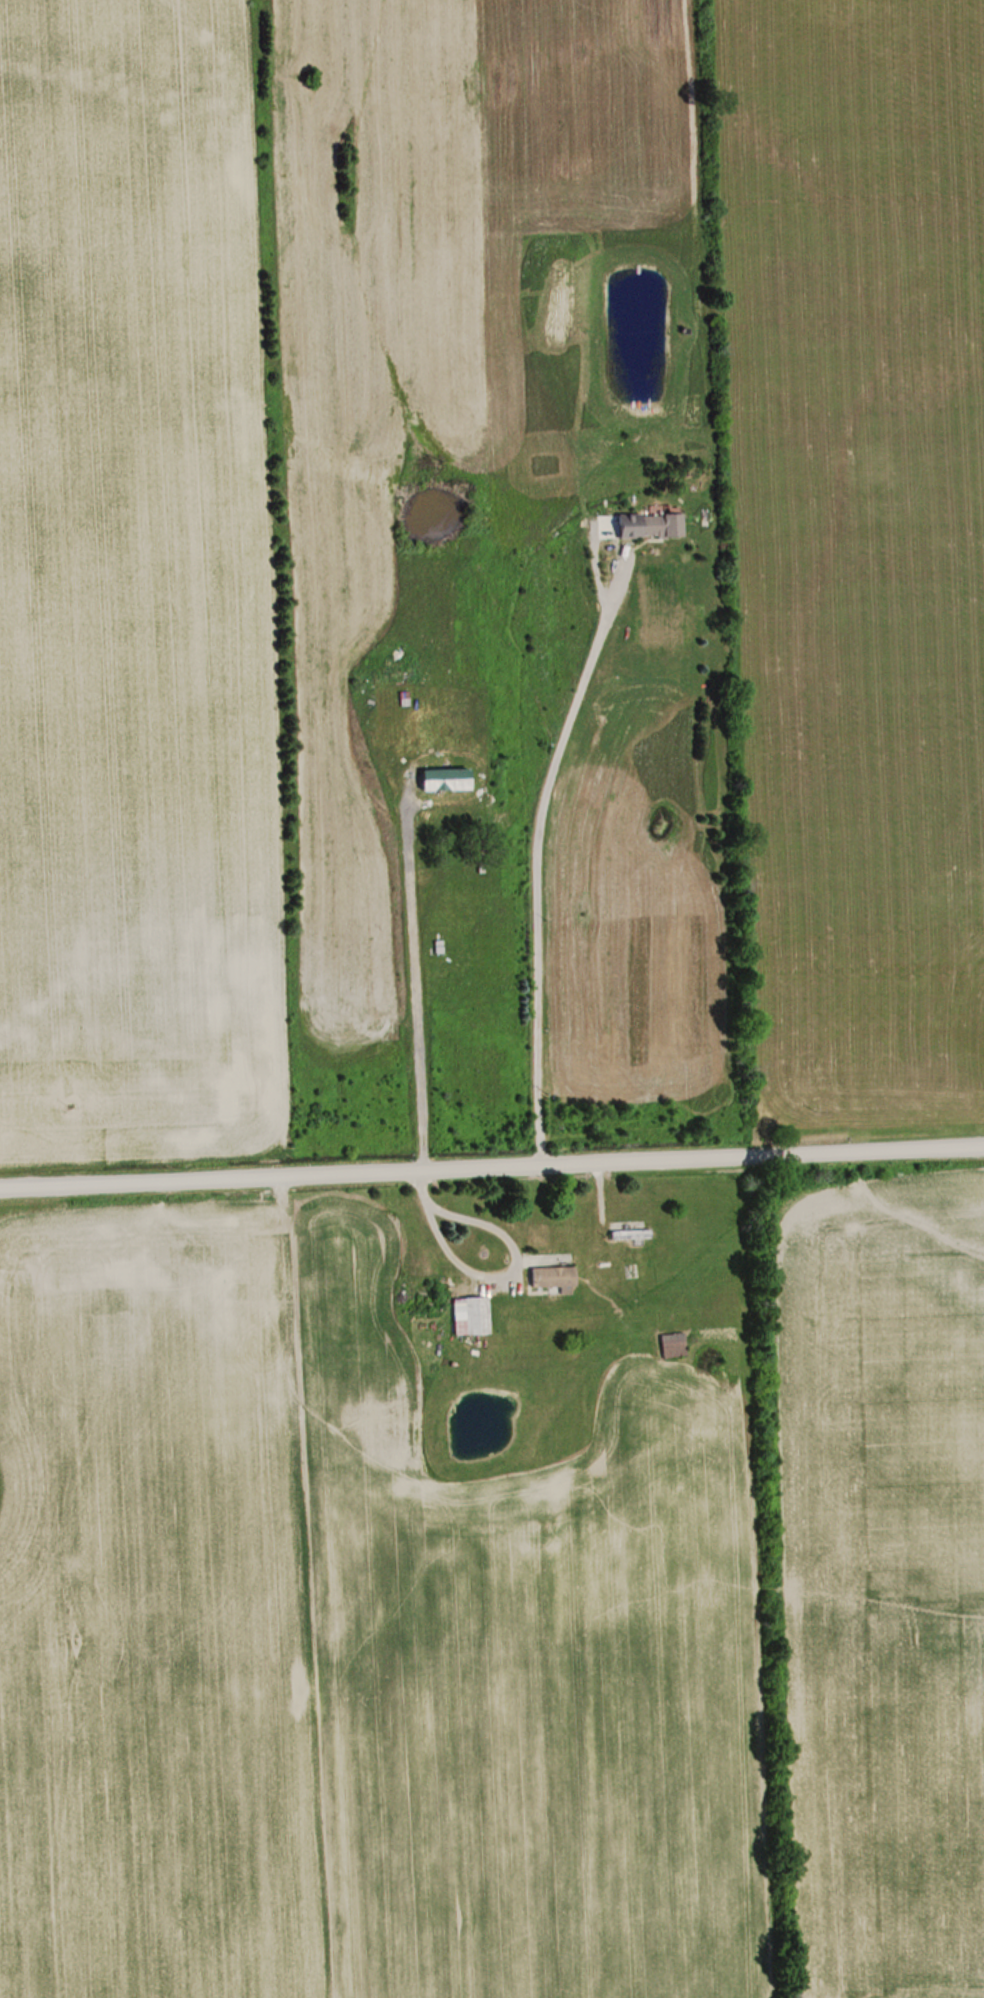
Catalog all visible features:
building: (650, 525)
building: (445, 777)
road: (492, 1165)
building: (627, 1235)
building: (554, 1278)
building: (469, 1315)
building: (672, 1345)

